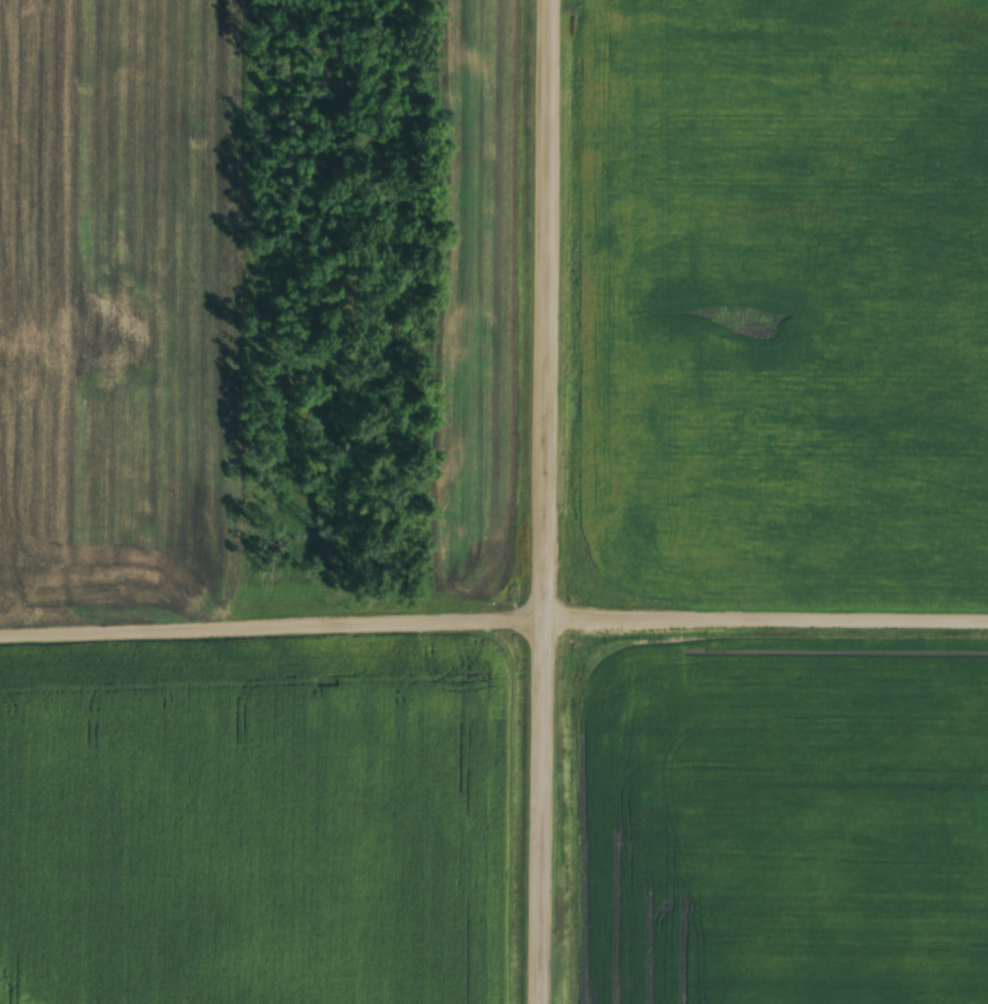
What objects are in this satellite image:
road: (550, 501)
road: (493, 629)

